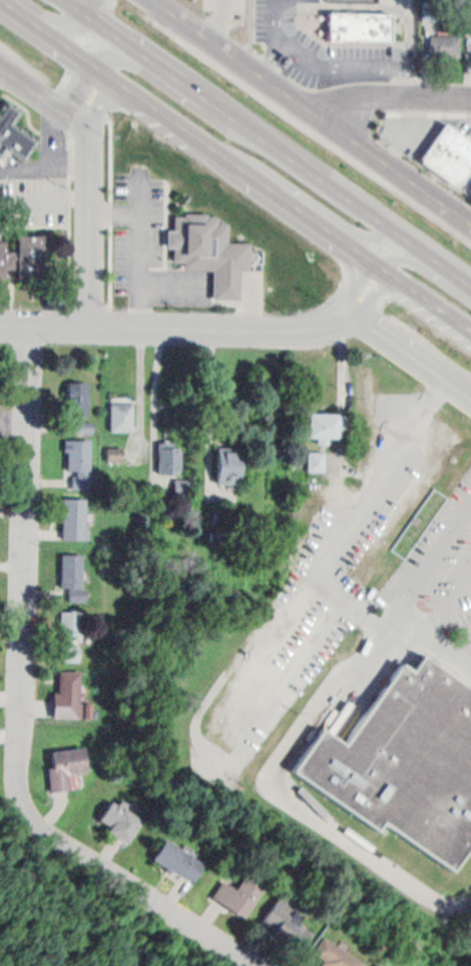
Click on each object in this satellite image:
parking lot: (213, 1)
road: (231, 1)
road: (369, 4)
road: (23, 14)
road: (217, 19)
building: (358, 20)
building: (467, 20)
road: (102, 25)
road: (81, 32)
building: (444, 40)
road: (64, 43)
parking lot: (326, 51)
road: (270, 55)
road: (324, 63)
road: (85, 64)
road: (412, 77)
road: (186, 85)
road: (46, 96)
road: (392, 96)
road: (104, 99)
road: (413, 106)
road: (312, 111)
road: (164, 113)
building: (13, 123)
road: (407, 129)
parking lot: (410, 129)
building: (448, 149)
road: (44, 150)
road: (393, 153)
road: (326, 183)
road: (289, 201)
road: (46, 204)
road: (111, 209)
road: (139, 211)
parking lot: (137, 222)
road: (92, 226)
road: (152, 233)
building: (205, 242)
road: (364, 242)
building: (26, 246)
road: (375, 267)
road: (444, 267)
road: (139, 269)
road: (175, 278)
road: (222, 279)
road: (403, 281)
road: (248, 295)
road: (375, 295)
road: (174, 325)
road: (408, 352)
building: (77, 391)
building: (122, 408)
building: (366, 418)
building: (321, 425)
building: (84, 427)
building: (78, 449)
building: (169, 451)
building: (232, 457)
building: (316, 461)
road: (388, 476)
building: (416, 491)
building: (76, 513)
building: (301, 535)
road: (28, 560)
road: (431, 560)
building: (74, 565)
parking lot: (443, 567)
road: (448, 609)
road: (400, 624)
building: (76, 633)
road: (462, 651)
building: (259, 678)
building: (69, 692)
building: (405, 762)
building: (68, 763)
road: (286, 793)
building: (119, 817)
building: (179, 856)
road: (120, 885)
building: (236, 892)
building: (283, 915)
building: (333, 951)
building: (378, 962)
building: (397, 964)

